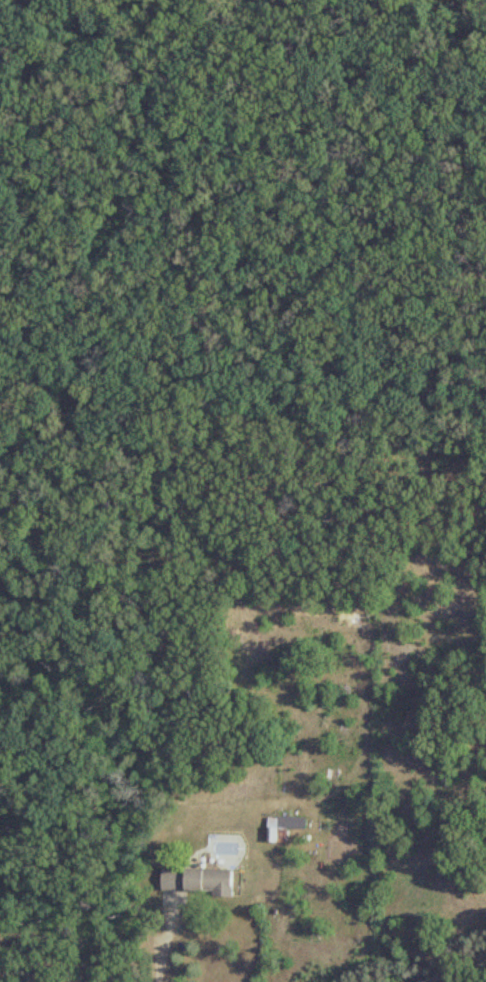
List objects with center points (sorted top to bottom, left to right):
building: (281, 828)
building: (197, 881)
road: (150, 929)

